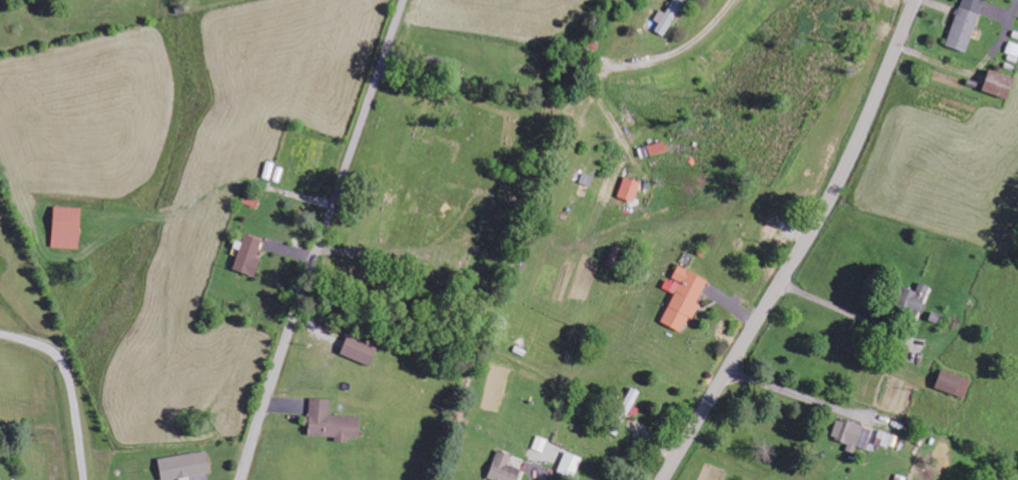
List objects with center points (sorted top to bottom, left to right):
building: (670, 16)
building: (967, 24)
building: (1013, 49)
building: (1002, 84)
park: (448, 171)
building: (632, 188)
building: (253, 199)
building: (69, 227)
road: (321, 239)
road: (803, 246)
building: (251, 254)
building: (686, 297)
building: (916, 297)
building: (361, 350)
building: (956, 382)
building: (334, 422)
building: (853, 434)
building: (885, 438)
building: (540, 446)
building: (572, 464)
building: (186, 465)
building: (506, 467)
building: (0, 479)

